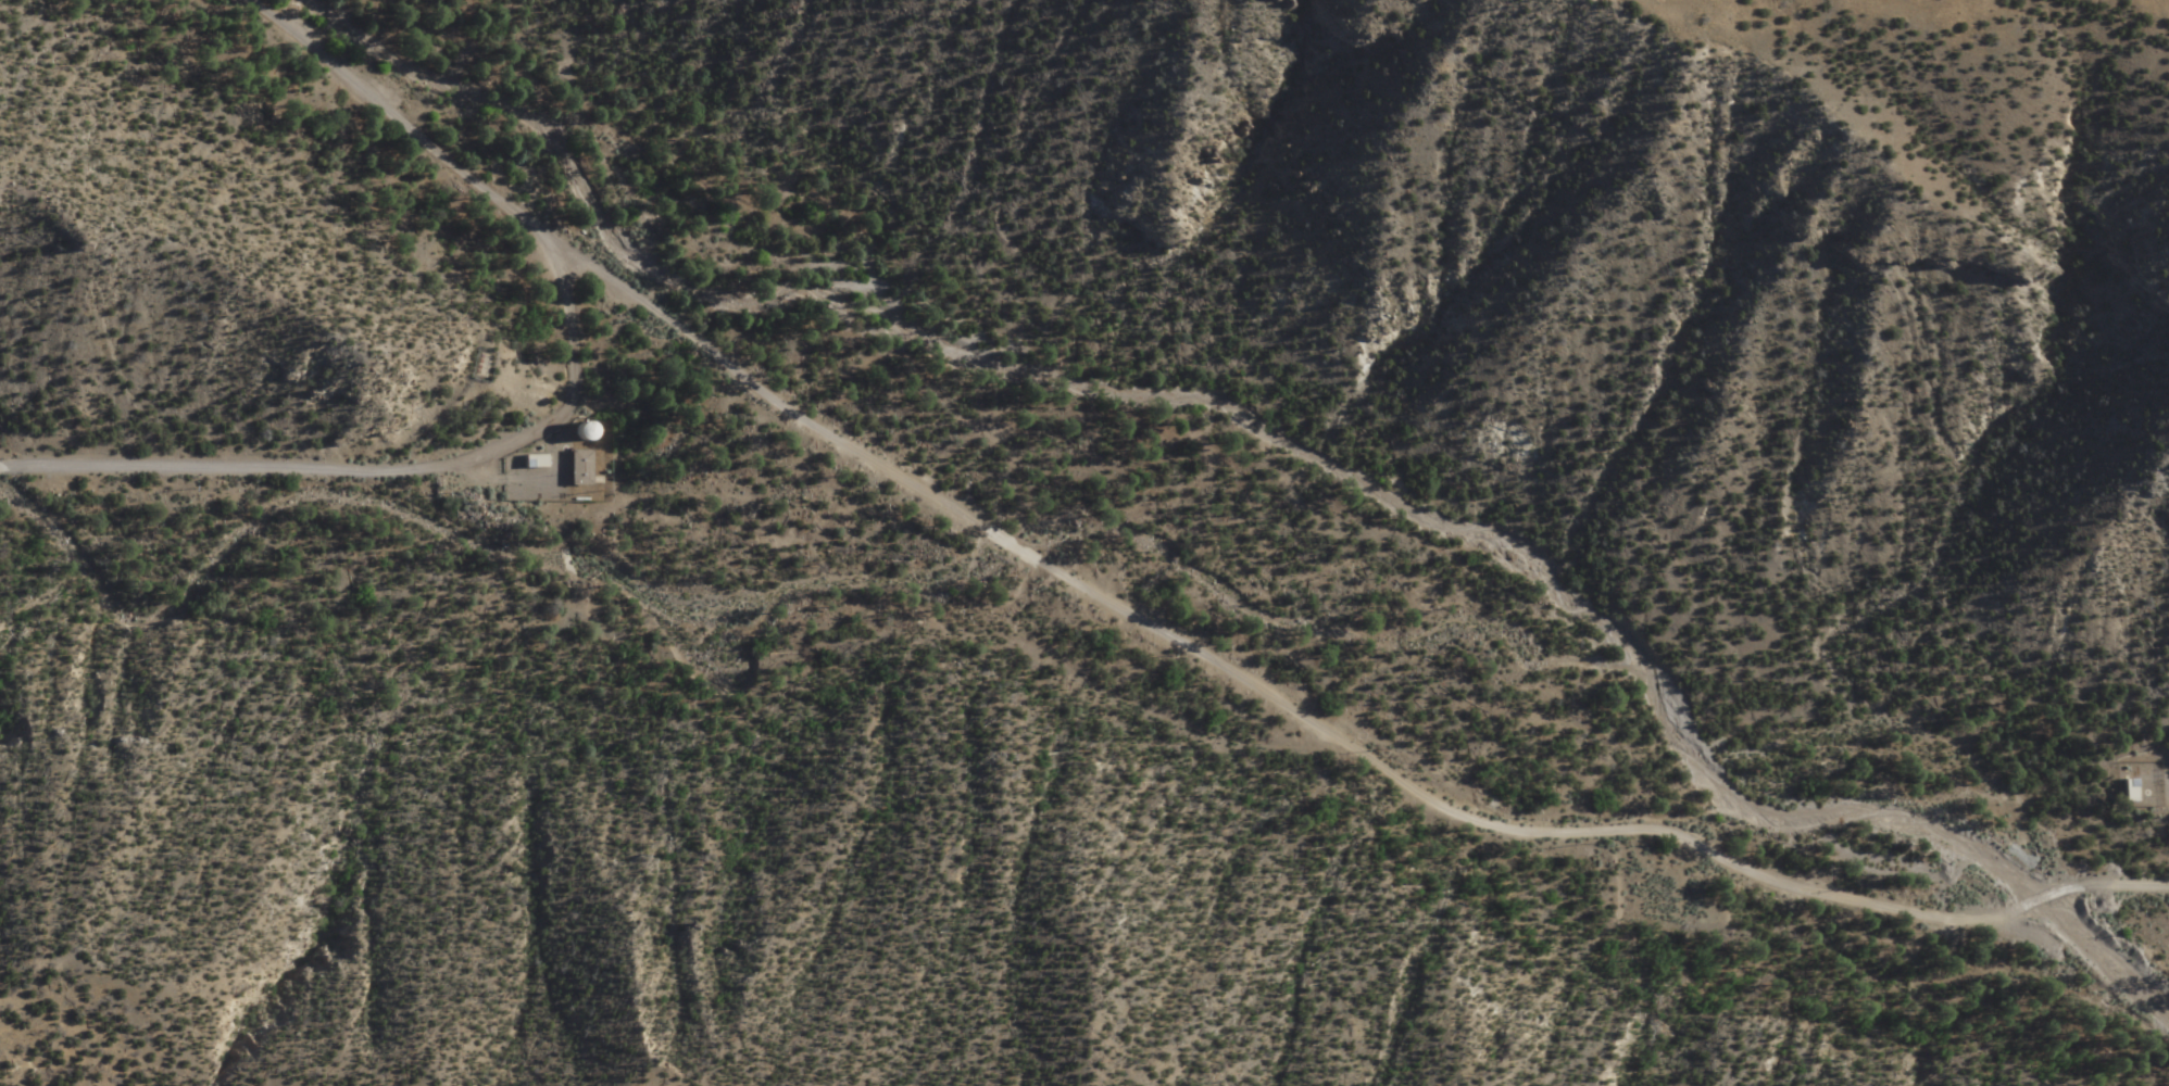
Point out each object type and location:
building: (597, 428)
storage tank: (597, 428)
building: (544, 456)
building: (585, 465)
road: (367, 467)
road: (1146, 624)
building: (2143, 776)
building: (2126, 792)

